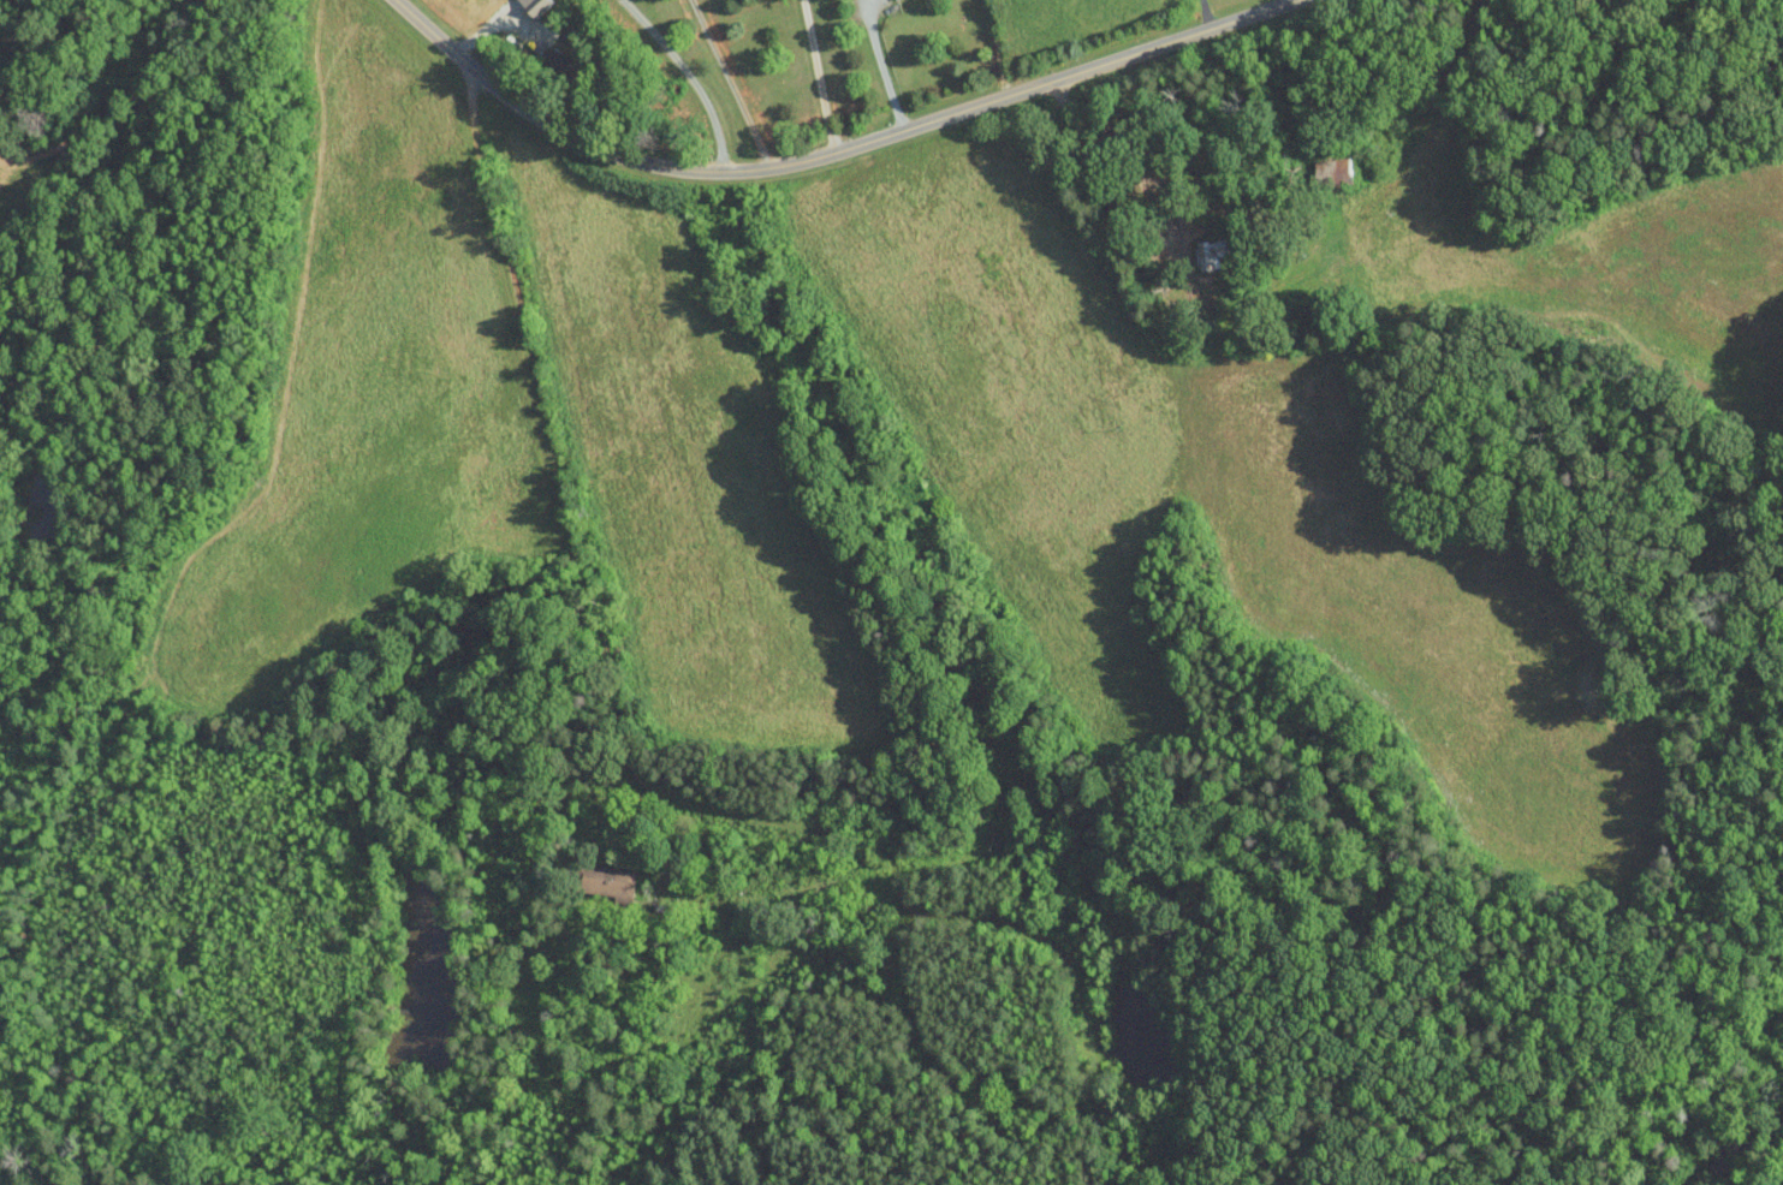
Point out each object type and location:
road: (1292, 1)
road: (1206, 14)
road: (998, 48)
road: (885, 66)
road: (819, 76)
road: (690, 77)
road: (731, 83)
road: (833, 153)
road: (1098, 165)
building: (1333, 173)
building: (1210, 251)
road: (552, 443)
building: (607, 880)

